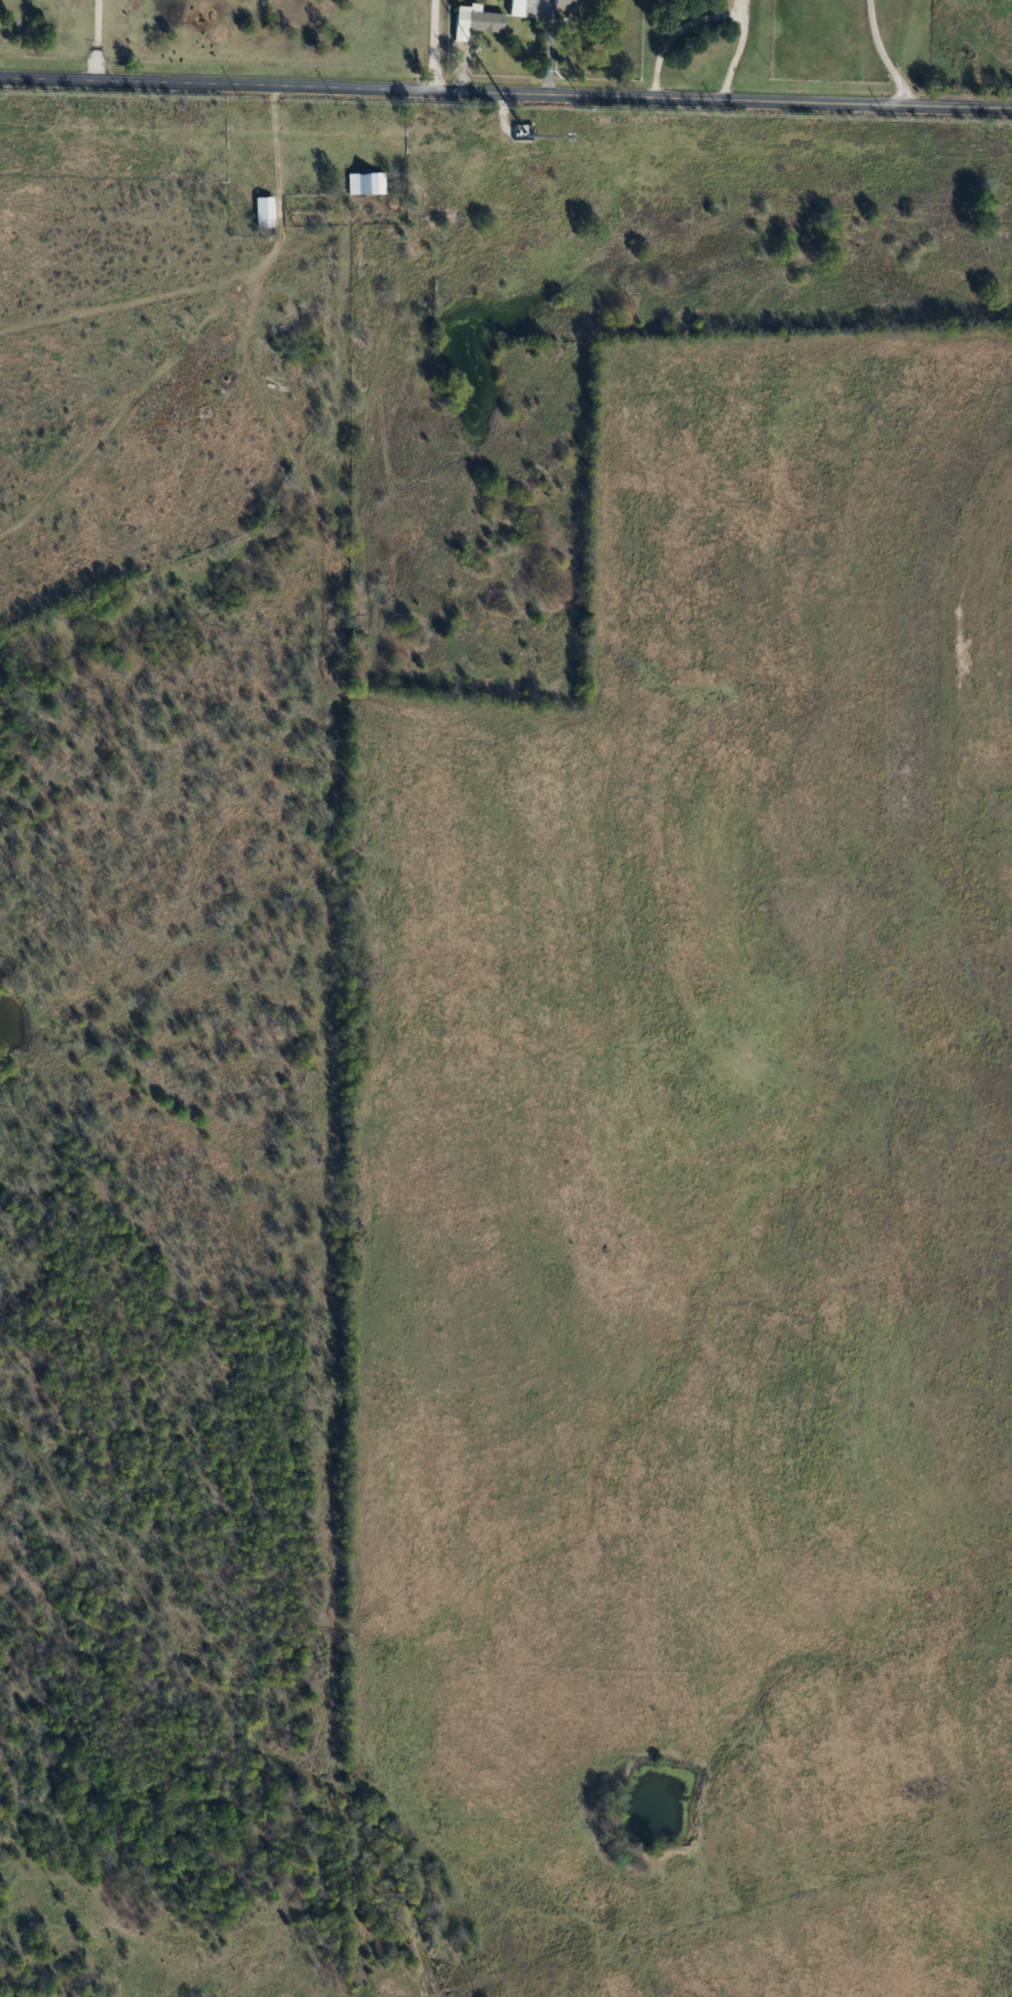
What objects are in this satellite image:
building: (571, 5)
building: (519, 7)
road: (712, 17)
building: (481, 20)
road: (94, 41)
road: (436, 46)
road: (882, 54)
road: (506, 93)
building: (367, 183)
building: (265, 212)
road: (226, 285)
building: (295, 312)

